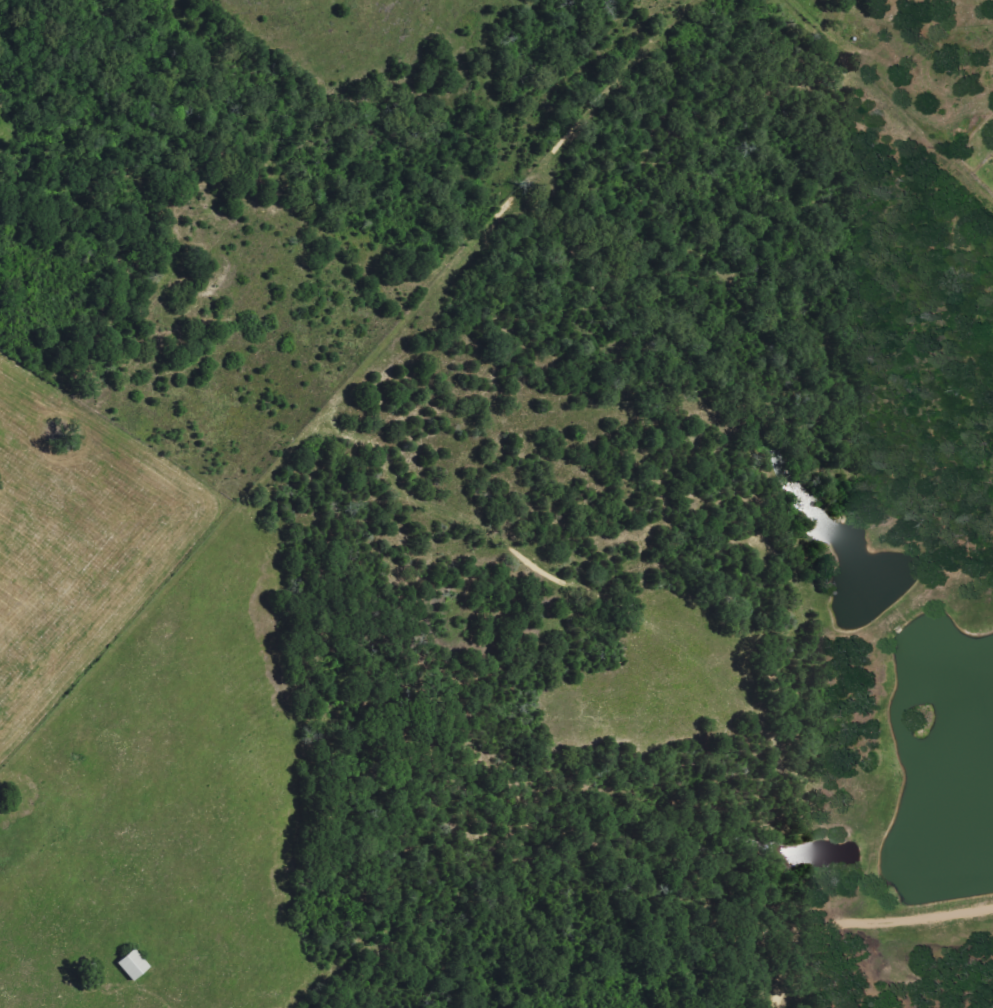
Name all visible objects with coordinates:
building: (135, 966)

